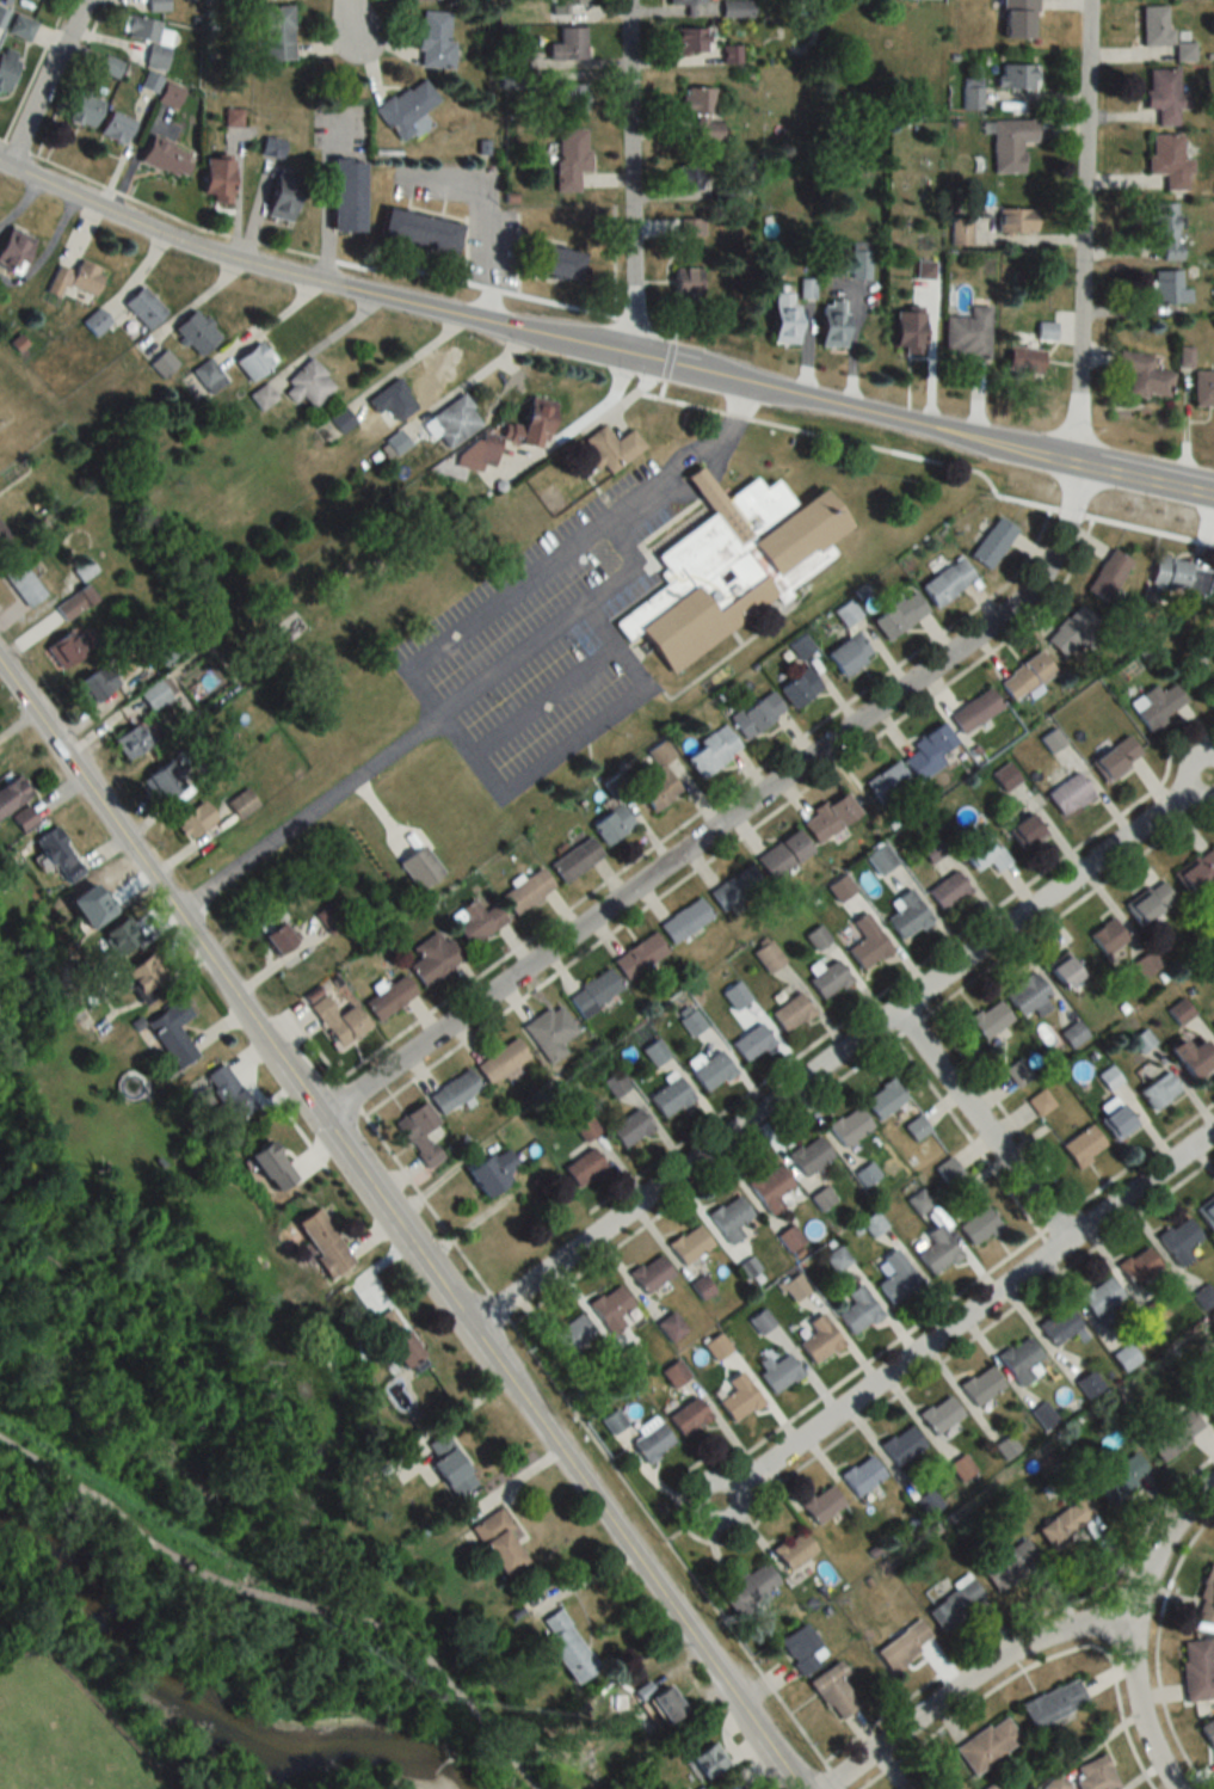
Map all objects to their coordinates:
building: (682, 4)
building: (156, 5)
building: (571, 7)
building: (737, 8)
building: (1017, 18)
road: (344, 25)
building: (1154, 26)
building: (19, 27)
building: (276, 32)
building: (148, 39)
building: (688, 39)
building: (432, 41)
building: (567, 44)
building: (731, 54)
building: (6, 66)
building: (1016, 75)
building: (149, 82)
road: (44, 84)
building: (1164, 93)
building: (569, 97)
building: (406, 104)
building: (84, 106)
building: (700, 111)
building: (233, 116)
building: (113, 127)
building: (1010, 143)
building: (162, 155)
building: (569, 156)
building: (1167, 160)
road: (16, 173)
building: (683, 176)
building: (214, 178)
road: (629, 178)
building: (344, 195)
road: (321, 197)
building: (278, 198)
road: (20, 205)
road: (486, 217)
building: (1015, 220)
building: (692, 226)
building: (1164, 228)
building: (417, 230)
road: (1081, 232)
building: (12, 250)
road: (44, 250)
building: (859, 260)
building: (557, 264)
road: (364, 270)
building: (73, 279)
building: (685, 282)
road: (326, 284)
building: (1167, 288)
building: (141, 307)
road: (189, 308)
building: (782, 318)
road: (267, 321)
building: (830, 324)
building: (1044, 330)
building: (193, 332)
building: (906, 332)
building: (967, 333)
road: (322, 342)
building: (251, 361)
building: (1023, 361)
building: (161, 363)
road: (405, 364)
building: (207, 375)
building: (1142, 375)
building: (306, 383)
road: (467, 385)
building: (1203, 388)
building: (260, 395)
building: (389, 401)
building: (339, 419)
building: (451, 420)
building: (532, 422)
road: (577, 426)
road: (922, 426)
building: (393, 442)
building: (609, 448)
building: (477, 450)
road: (931, 460)
road: (682, 462)
building: (4, 536)
building: (991, 542)
road: (629, 545)
building: (734, 566)
road: (543, 573)
building: (1107, 576)
building: (1178, 577)
building: (945, 582)
building: (20, 583)
building: (74, 603)
building: (896, 615)
building: (1070, 632)
road: (544, 638)
building: (69, 647)
road: (614, 648)
building: (166, 653)
building: (846, 653)
park: (1194, 654)
road: (1201, 654)
building: (1023, 677)
building: (93, 684)
building: (797, 688)
building: (156, 693)
road: (544, 701)
building: (1154, 705)
building: (973, 711)
building: (756, 714)
road: (458, 731)
building: (130, 740)
road: (574, 742)
building: (711, 751)
building: (928, 752)
building: (1114, 758)
building: (209, 764)
road: (1213, 770)
building: (1004, 776)
building: (160, 782)
building: (885, 783)
building: (655, 788)
building: (10, 792)
building: (1067, 794)
building: (239, 804)
road: (312, 813)
road: (732, 814)
road: (384, 816)
building: (827, 818)
building: (18, 819)
building: (192, 820)
building: (610, 824)
building: (1024, 831)
building: (981, 853)
building: (782, 854)
building: (53, 856)
building: (574, 859)
building: (419, 866)
building: (1196, 872)
building: (733, 887)
building: (525, 891)
building: (947, 891)
building: (1148, 903)
building: (905, 915)
building: (328, 920)
building: (683, 921)
building: (473, 922)
building: (1105, 935)
building: (116, 936)
building: (273, 940)
building: (867, 942)
building: (637, 955)
building: (768, 957)
building: (431, 958)
building: (1145, 964)
road: (907, 972)
building: (1062, 972)
building: (828, 979)
building: (592, 991)
building: (1027, 996)
building: (388, 998)
building: (1179, 1012)
building: (789, 1014)
building: (988, 1019)
building: (335, 1021)
building: (691, 1022)
road: (0, 1023)
building: (548, 1033)
building: (168, 1034)
building: (1072, 1034)
building: (751, 1043)
road: (842, 1051)
building: (1190, 1059)
building: (499, 1062)
road: (859, 1063)
building: (710, 1071)
building: (1018, 1072)
building: (615, 1083)
building: (1157, 1090)
building: (451, 1093)
building: (218, 1095)
building: (668, 1096)
building: (883, 1099)
building: (1040, 1102)
building: (414, 1120)
building: (1116, 1121)
road: (982, 1124)
building: (848, 1125)
building: (914, 1127)
building: (585, 1129)
building: (628, 1129)
building: (1081, 1145)
building: (808, 1155)
building: (264, 1167)
building: (581, 1168)
building: (489, 1173)
building: (865, 1175)
building: (770, 1188)
building: (820, 1198)
building: (1207, 1213)
building: (728, 1218)
building: (873, 1223)
road: (398, 1227)
building: (978, 1227)
building: (789, 1237)
building: (1177, 1241)
building: (318, 1243)
building: (689, 1243)
building: (937, 1250)
building: (837, 1258)
building: (1136, 1266)
building: (649, 1273)
building: (895, 1278)
building: (1099, 1297)
building: (1203, 1297)
building: (609, 1307)
building: (857, 1310)
building: (1153, 1311)
road: (963, 1316)
building: (1058, 1324)
building: (670, 1327)
building: (571, 1334)
building: (818, 1340)
building: (392, 1341)
building: (715, 1346)
building: (1124, 1358)
building: (1019, 1360)
building: (777, 1372)
building: (673, 1373)
building: (1089, 1384)
building: (980, 1385)
building: (738, 1398)
road: (566, 1401)
building: (1208, 1404)
building: (938, 1415)
building: (686, 1416)
building: (612, 1421)
building: (1173, 1434)
building: (649, 1441)
building: (900, 1446)
building: (446, 1467)
building: (960, 1468)
building: (861, 1475)
building: (1119, 1478)
road: (75, 1484)
building: (820, 1504)
building: (929, 1506)
building: (1064, 1524)
building: (494, 1542)
building: (791, 1550)
road: (1163, 1550)
building: (1009, 1566)
road: (229, 1584)
building: (746, 1587)
building: (1206, 1598)
building: (953, 1603)
building: (901, 1644)
building: (565, 1647)
building: (800, 1648)
building: (1196, 1670)
road: (445, 1678)
road: (967, 1682)
building: (831, 1691)
building: (658, 1702)
building: (1052, 1702)
river: (198, 1705)
road: (1140, 1709)
building: (1208, 1734)
building: (986, 1744)
building: (703, 1760)
building: (1091, 1773)
building: (910, 1783)
building: (727, 1785)

